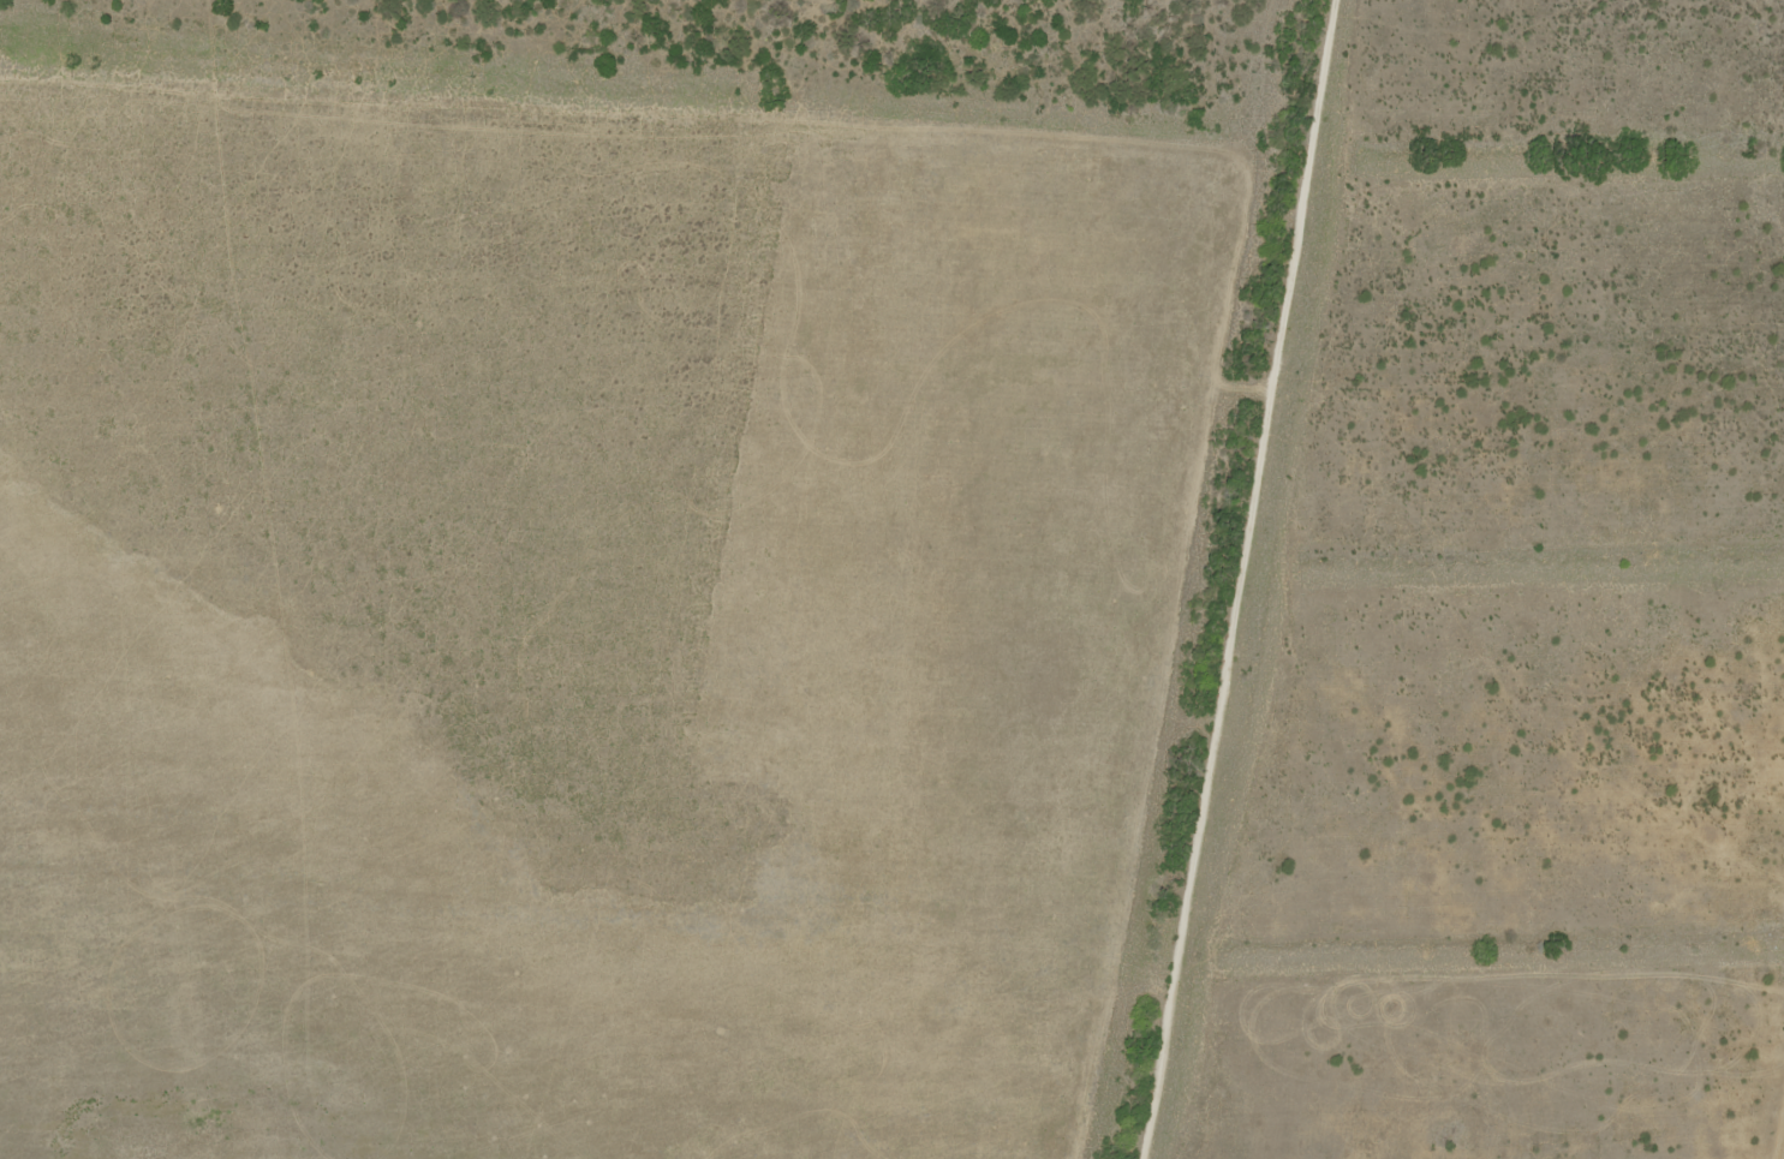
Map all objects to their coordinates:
road: (1243, 579)

